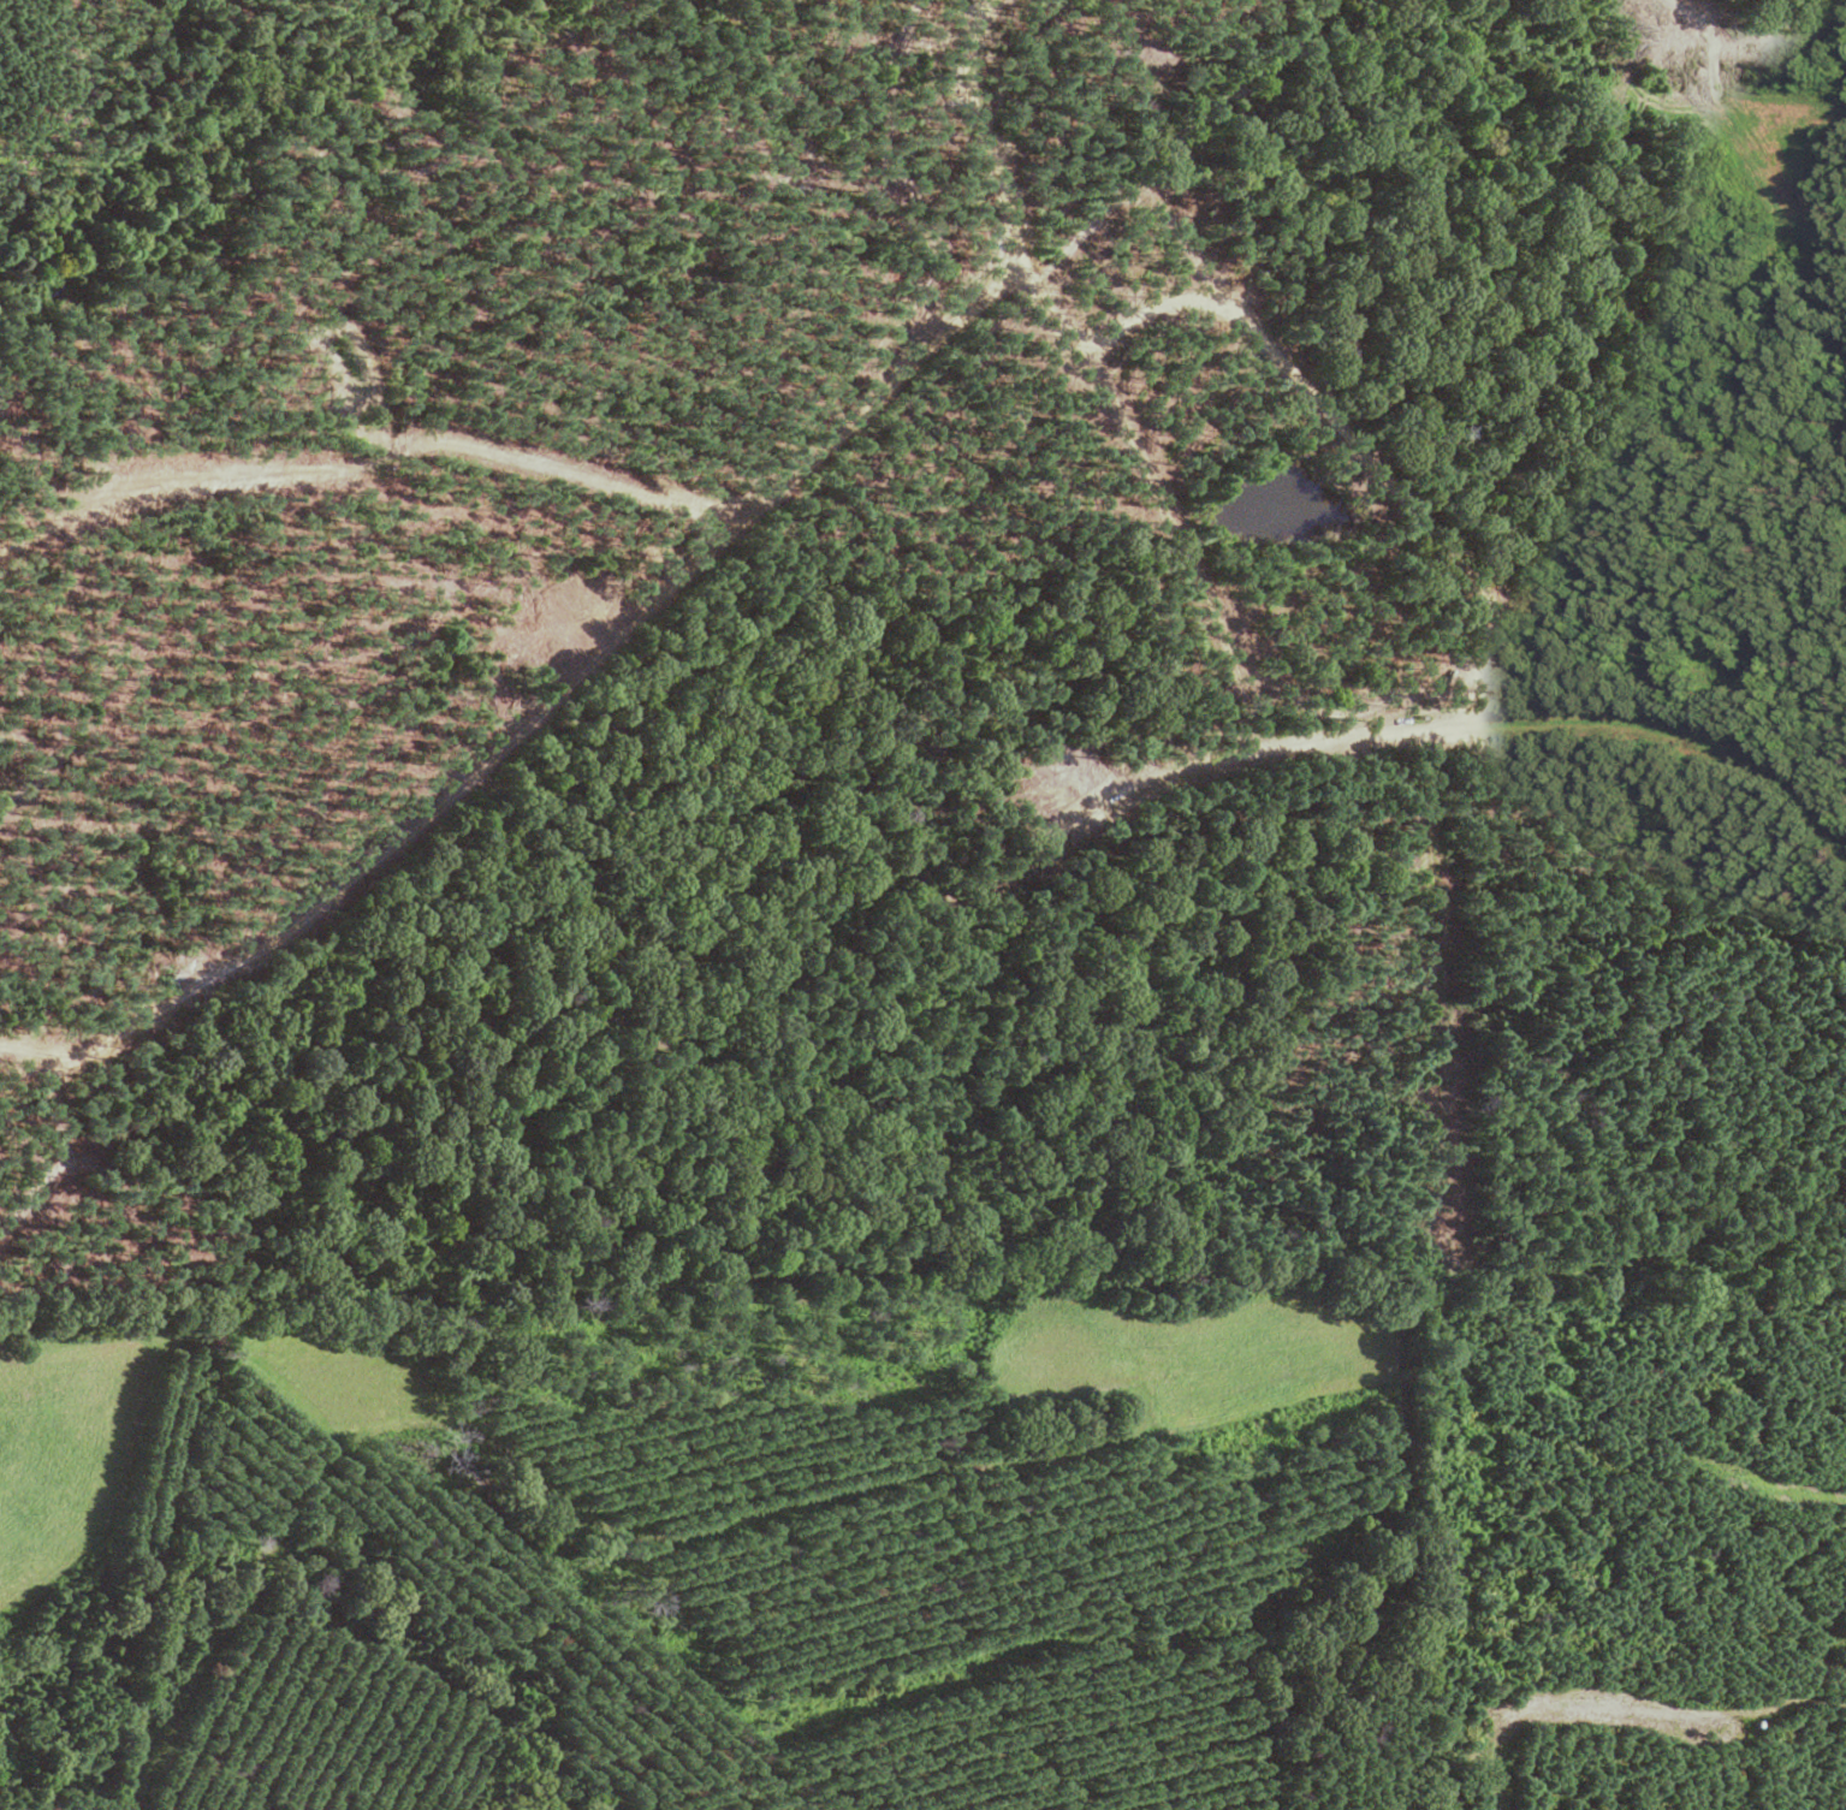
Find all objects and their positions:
road: (1245, 1435)

